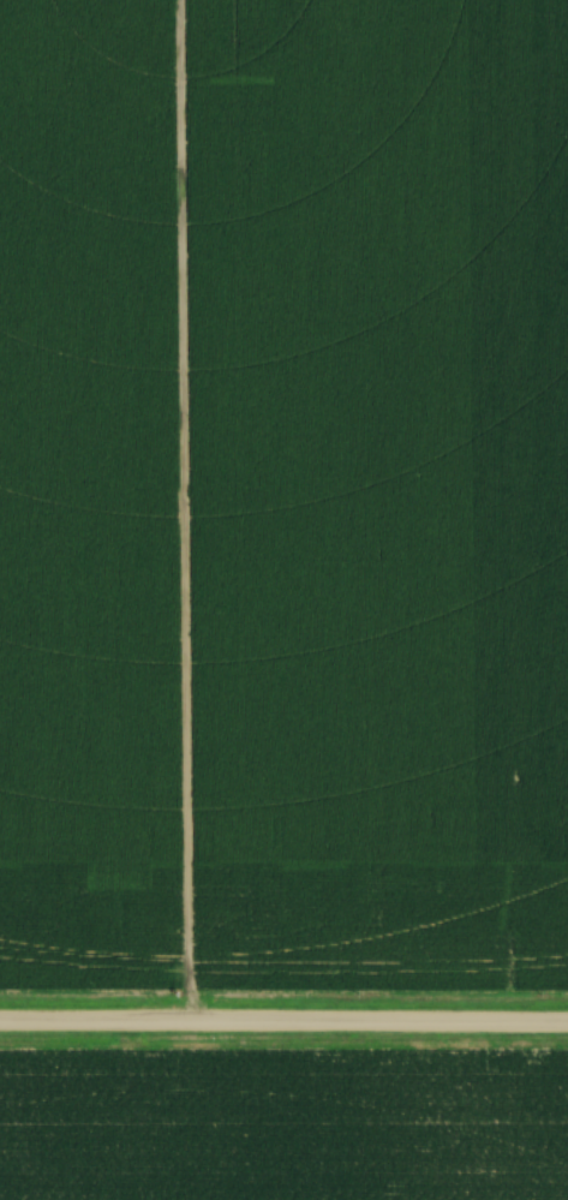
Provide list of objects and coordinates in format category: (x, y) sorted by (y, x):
road: (283, 1025)

